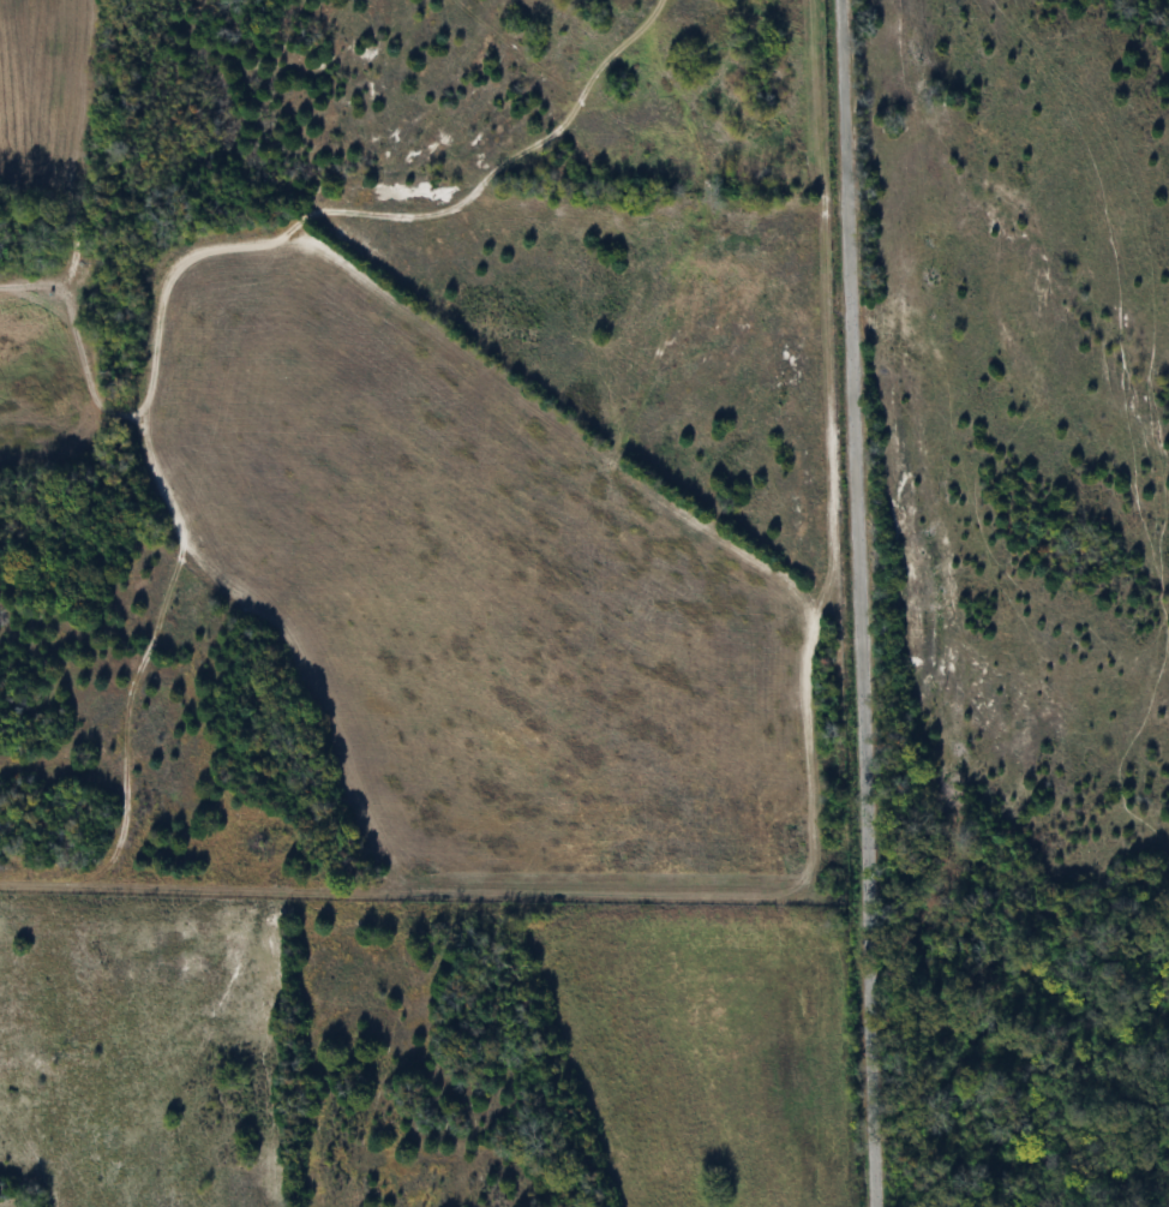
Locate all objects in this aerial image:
road: (862, 603)

